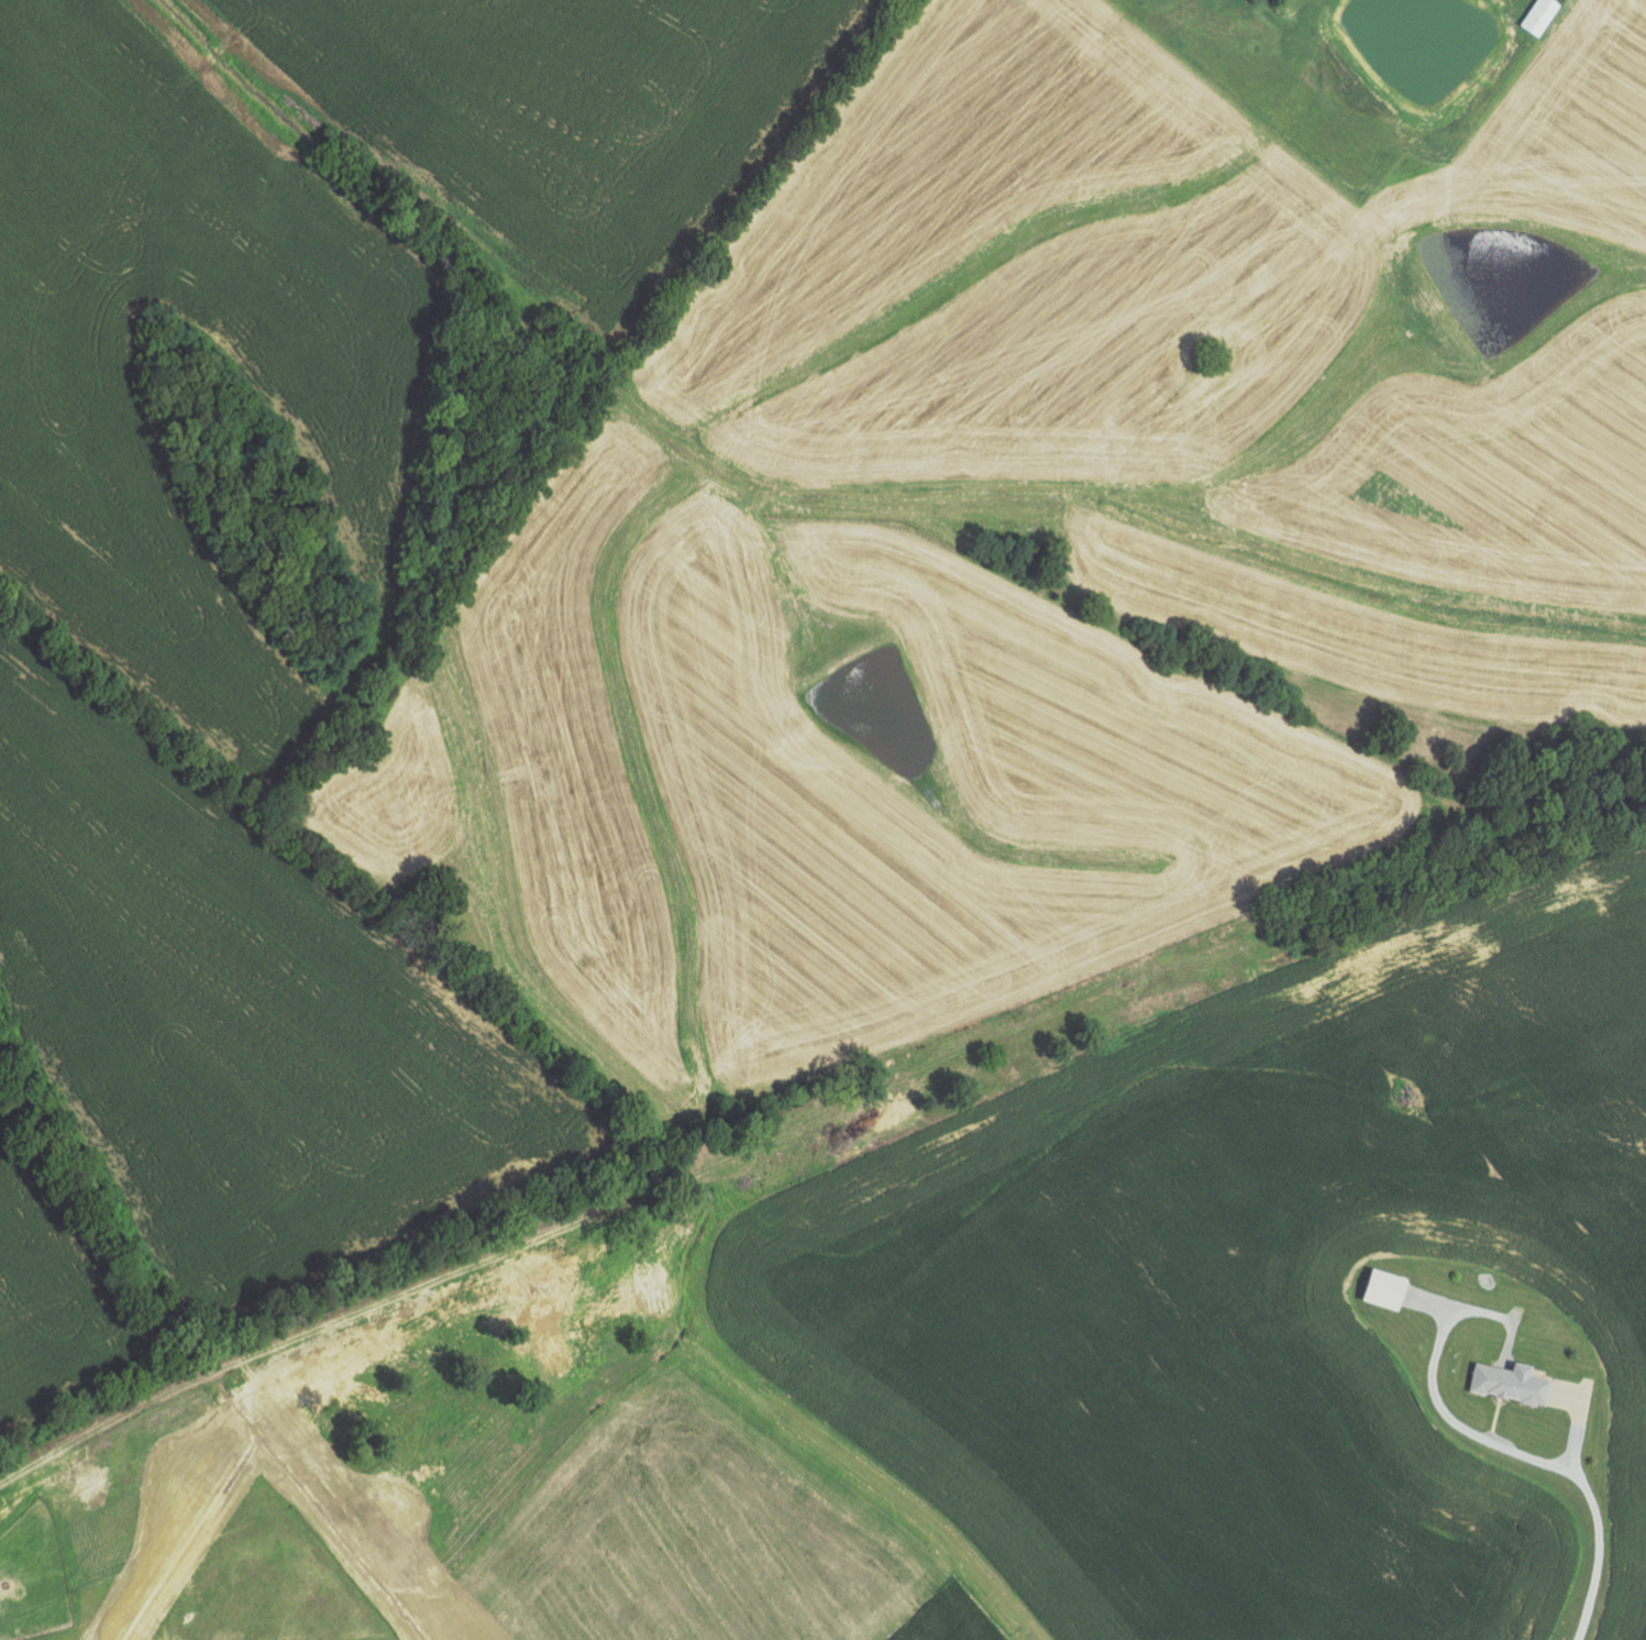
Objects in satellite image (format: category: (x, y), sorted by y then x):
building: (1543, 18)
building: (1389, 1290)
building: (1514, 1385)
road: (1599, 1520)

